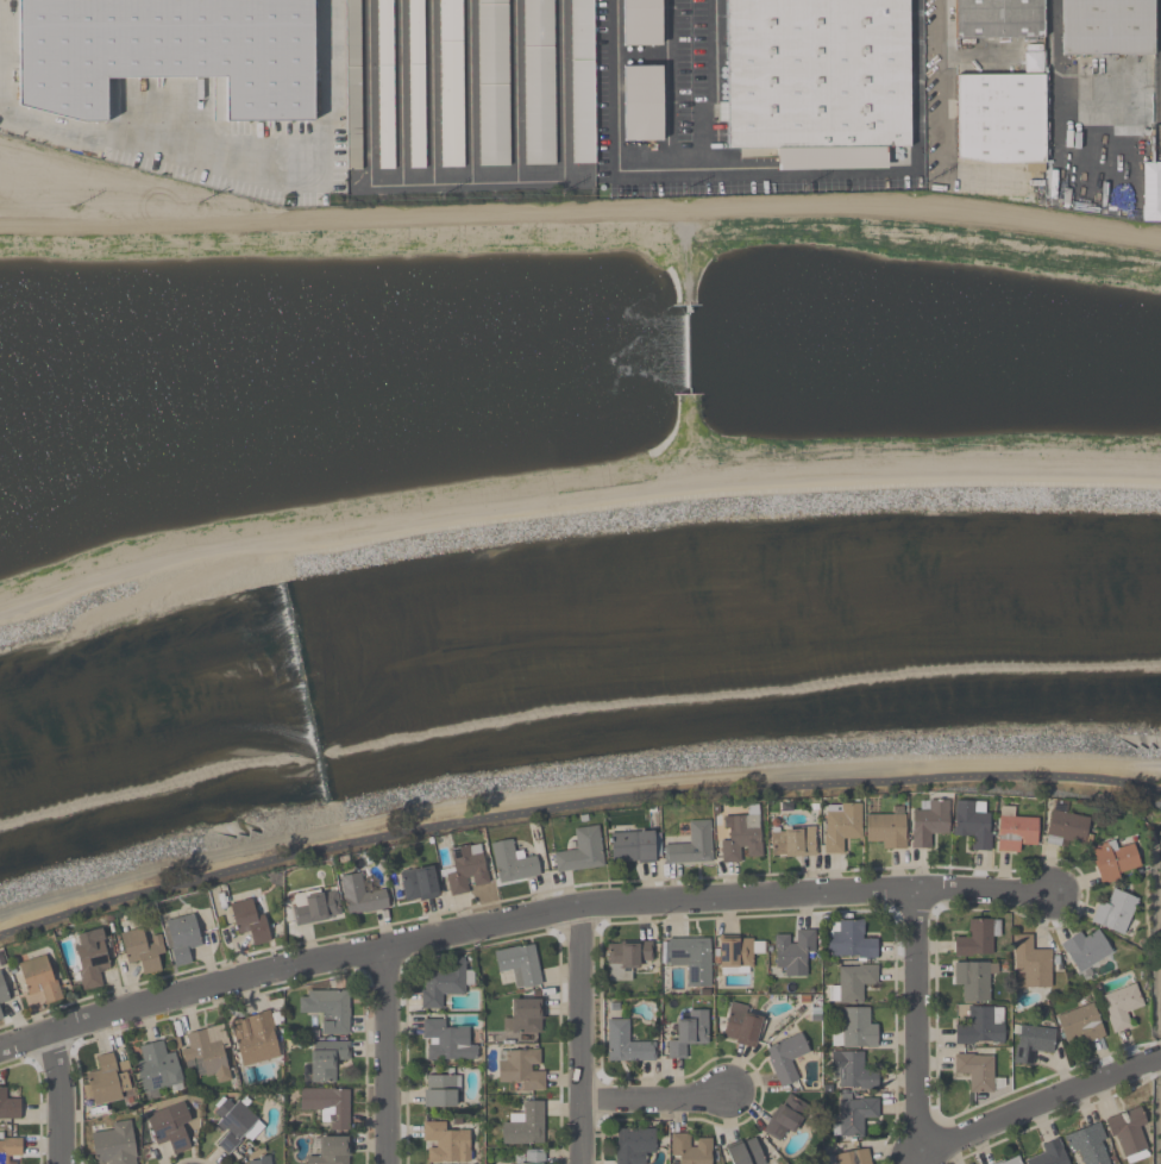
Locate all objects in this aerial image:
building: (998, 19)
building: (640, 23)
building: (1106, 27)
building: (167, 52)
building: (817, 80)
road: (1053, 80)
building: (580, 81)
building: (492, 82)
building: (539, 82)
building: (416, 83)
building: (451, 83)
building: (352, 85)
building: (384, 85)
road: (937, 86)
road: (713, 88)
building: (641, 102)
building: (1002, 114)
road: (240, 162)
road: (765, 175)
road: (465, 182)
river: (575, 656)
road: (573, 805)
building: (929, 822)
building: (841, 825)
building: (972, 825)
building: (1066, 826)
building: (886, 828)
building: (1015, 831)
building: (742, 839)
building: (793, 840)
building: (691, 845)
building: (634, 846)
building: (580, 851)
building: (1115, 859)
building: (513, 862)
building: (466, 869)
building: (416, 883)
building: (362, 895)
building: (315, 906)
building: (1115, 912)
road: (519, 916)
building: (250, 918)
building: (181, 935)
building: (977, 938)
building: (848, 940)
building: (142, 949)
building: (1085, 950)
building: (792, 952)
building: (735, 955)
building: (90, 957)
building: (627, 957)
building: (691, 958)
building: (1031, 962)
building: (519, 965)
building: (39, 978)
building: (972, 980)
building: (853, 982)
building: (444, 983)
building: (2, 990)
building: (1121, 1007)
building: (326, 1008)
building: (1, 1014)
building: (523, 1015)
road: (917, 1021)
building: (742, 1025)
building: (979, 1025)
building: (1080, 1025)
building: (855, 1030)
building: (689, 1032)
road: (582, 1034)
building: (255, 1038)
building: (445, 1041)
building: (626, 1043)
building: (1033, 1044)
building: (208, 1053)
road: (387, 1053)
building: (326, 1058)
building: (785, 1058)
building: (521, 1068)
building: (157, 1069)
building: (852, 1070)
building: (975, 1071)
building: (107, 1079)
building: (441, 1090)
road: (61, 1096)
road: (655, 1101)
building: (8, 1106)
building: (327, 1106)
road: (1038, 1108)
building: (854, 1115)
building: (785, 1116)
building: (234, 1122)
building: (526, 1125)
building: (170, 1127)
building: (1128, 1134)
building: (113, 1143)
building: (445, 1144)
building: (633, 1144)
building: (10, 1146)
building: (1090, 1146)
building: (690, 1147)
building: (331, 1151)
building: (743, 1152)
building: (1049, 1153)
building: (529, 1157)
building: (852, 1158)
building: (259, 1160)
building: (1010, 1160)

